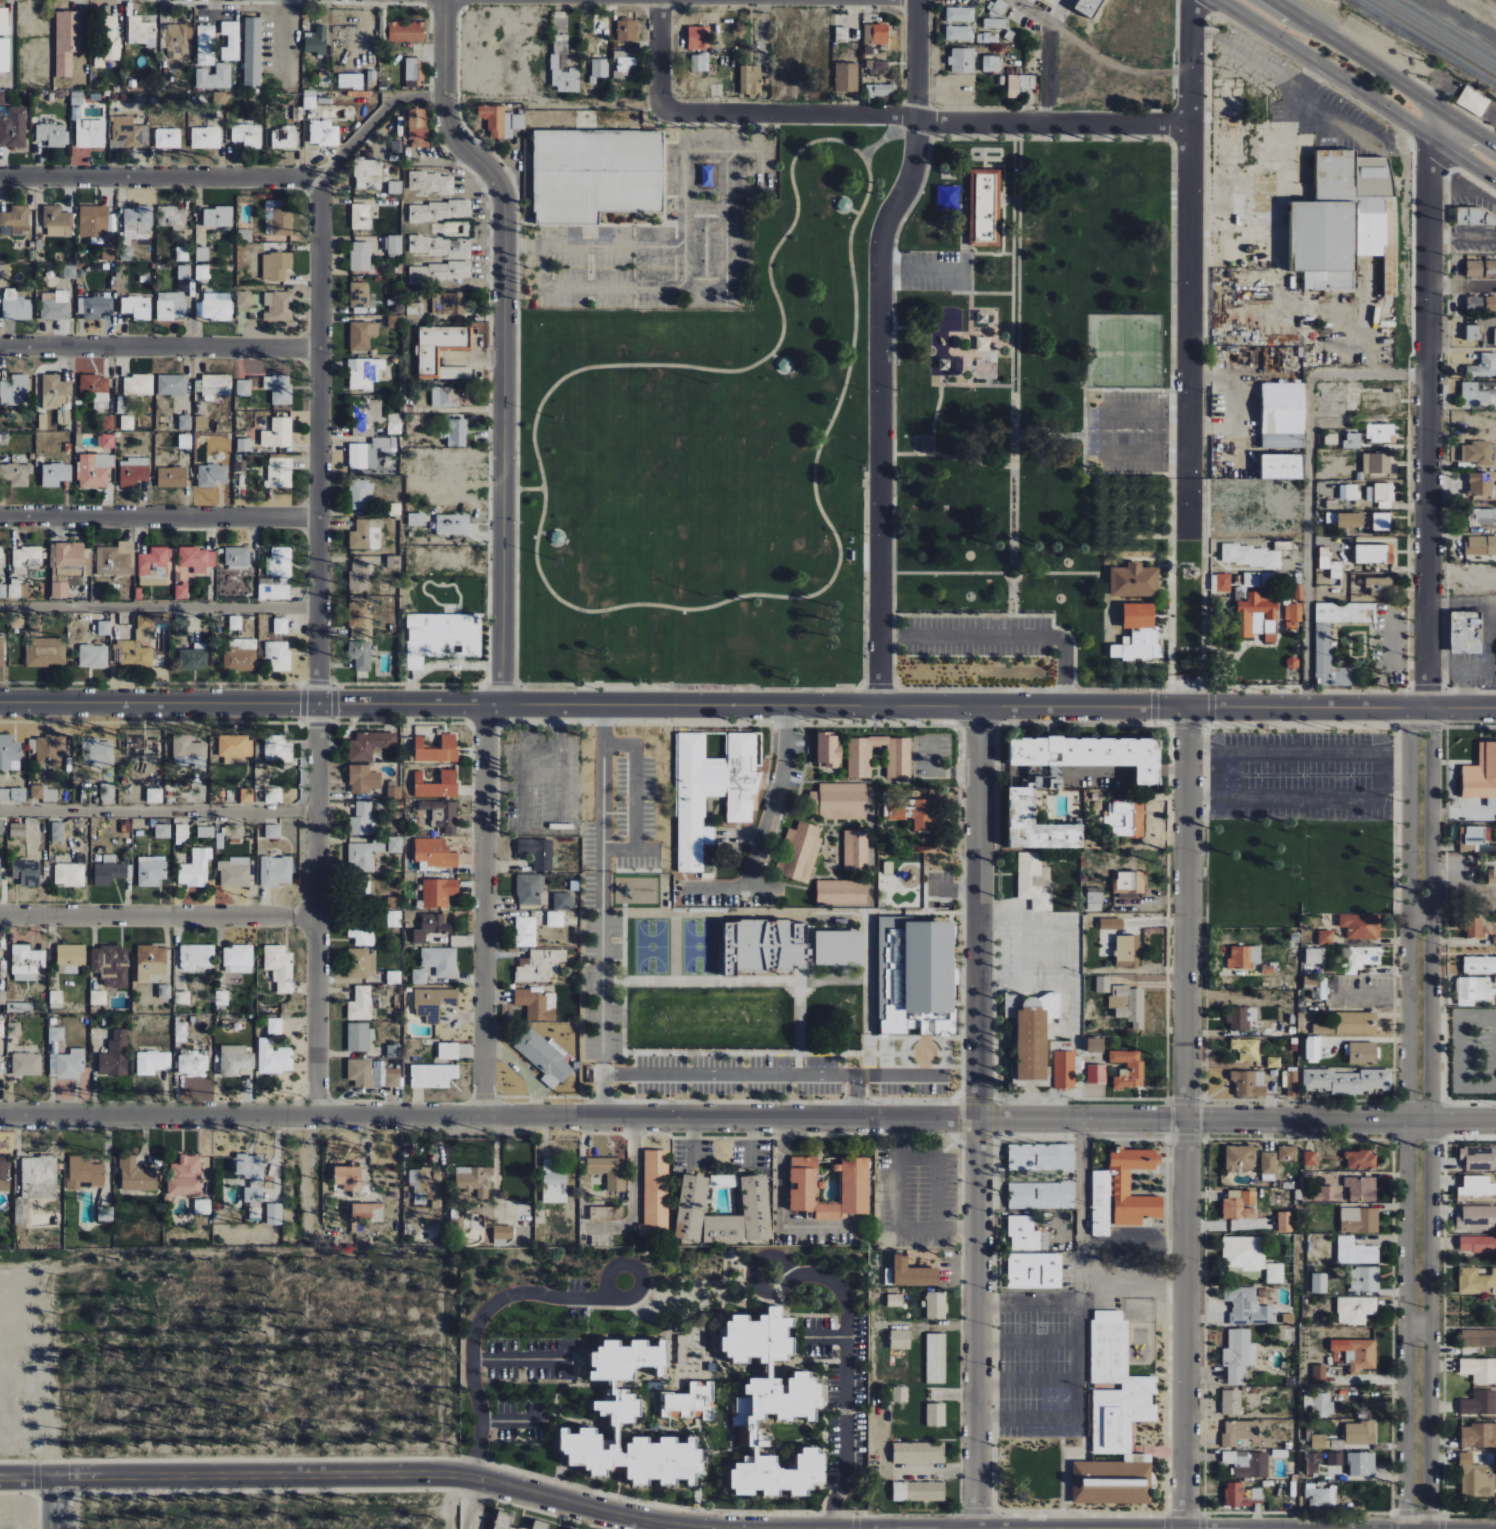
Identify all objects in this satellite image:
building: (1101, 0)
building: (1087, 7)
building: (997, 9)
road: (1029, 10)
road: (1057, 12)
building: (960, 14)
building: (3, 21)
road: (1293, 26)
building: (626, 30)
building: (141, 32)
building: (406, 32)
building: (959, 33)
building: (842, 34)
building: (876, 34)
railway: (1439, 34)
building: (698, 37)
building: (987, 37)
railway: (1431, 38)
building: (67, 40)
building: (108, 41)
building: (177, 41)
building: (231, 41)
building: (315, 41)
building: (205, 45)
building: (252, 51)
building: (4, 55)
road: (665, 55)
building: (962, 60)
building: (700, 62)
road: (1317, 62)
building: (624, 63)
building: (991, 63)
building: (877, 67)
building: (599, 69)
building: (411, 72)
road: (1384, 72)
road: (1043, 73)
building: (564, 74)
building: (214, 77)
building: (846, 77)
building: (750, 80)
building: (350, 81)
building: (1018, 84)
building: (879, 89)
building: (2, 98)
building: (219, 98)
building: (309, 99)
building: (1473, 101)
road: (817, 115)
road: (1433, 118)
building: (500, 121)
building: (12, 126)
building: (418, 127)
building: (89, 133)
building: (323, 133)
building: (128, 134)
building: (52, 135)
building: (247, 135)
road: (1428, 135)
road: (890, 136)
building: (168, 138)
building: (205, 138)
building: (284, 138)
road: (1470, 144)
road: (1468, 161)
building: (368, 174)
building: (595, 174)
road: (240, 177)
building: (431, 183)
building: (394, 187)
building: (843, 205)
building: (984, 208)
building: (439, 210)
building: (360, 216)
building: (1475, 216)
building: (172, 217)
building: (218, 217)
building: (1340, 218)
building: (279, 220)
building: (15, 221)
building: (93, 221)
building: (57, 222)
building: (137, 223)
building: (245, 236)
road: (1191, 238)
building: (394, 244)
building: (439, 247)
building: (107, 253)
building: (202, 254)
building: (360, 256)
building: (276, 265)
building: (1480, 268)
building: (4, 272)
building: (202, 272)
building: (439, 272)
building: (60, 276)
building: (361, 296)
building: (243, 299)
building: (449, 303)
building: (1474, 303)
building: (1490, 303)
building: (16, 306)
building: (54, 306)
building: (95, 306)
building: (170, 306)
building: (278, 306)
building: (136, 307)
building: (213, 310)
building: (413, 311)
building: (985, 316)
building: (1472, 332)
building: (362, 335)
building: (1494, 337)
road: (160, 339)
road: (505, 340)
road: (778, 344)
building: (983, 344)
road: (884, 350)
building: (428, 358)
building: (944, 364)
building: (1483, 366)
building: (364, 372)
road: (1371, 374)
building: (138, 385)
building: (171, 385)
building: (216, 385)
building: (243, 388)
building: (278, 389)
building: (14, 391)
building: (1478, 394)
building: (57, 397)
building: (98, 397)
building: (444, 397)
building: (1283, 416)
building: (357, 421)
building: (126, 422)
building: (185, 423)
building: (201, 423)
building: (394, 423)
park: (856, 428)
building: (278, 433)
building: (457, 433)
building: (1380, 433)
building: (107, 441)
building: (184, 441)
building: (1352, 441)
building: (243, 445)
building: (927, 445)
building: (368, 451)
building: (1477, 453)
building: (1377, 463)
building: (1281, 467)
building: (133, 472)
building: (91, 473)
building: (279, 473)
building: (16, 474)
building: (55, 475)
building: (211, 475)
building: (171, 477)
building: (1482, 484)
building: (1348, 492)
building: (361, 495)
building: (1381, 495)
building: (394, 510)
road: (161, 513)
building: (1482, 517)
building: (416, 519)
building: (1331, 519)
building: (1349, 520)
building: (1381, 521)
building: (452, 524)
building: (365, 535)
building: (557, 538)
road: (1308, 540)
building: (1481, 546)
building: (1374, 554)
building: (69, 555)
building: (237, 556)
building: (1251, 556)
building: (27, 557)
building: (1, 558)
building: (115, 559)
building: (197, 559)
building: (394, 562)
building: (1330, 563)
building: (154, 565)
building: (72, 576)
building: (276, 576)
road: (1186, 576)
building: (359, 577)
building: (1252, 580)
building: (1134, 581)
building: (1224, 583)
building: (1378, 586)
building: (15, 588)
building: (59, 590)
building: (2, 591)
building: (181, 591)
building: (1299, 592)
road: (160, 606)
building: (1293, 616)
building: (359, 620)
building: (17, 622)
building: (235, 623)
building: (1245, 625)
building: (180, 626)
building: (280, 626)
building: (104, 628)
building: (1466, 632)
building: (1138, 635)
building: (441, 637)
building: (1323, 645)
building: (138, 646)
road: (319, 648)
building: (1, 652)
building: (45, 652)
building: (278, 655)
building: (360, 655)
building: (93, 656)
building: (193, 659)
building: (239, 659)
road: (1185, 676)
road: (1185, 682)
road: (747, 704)
building: (370, 745)
building: (141, 747)
building: (188, 749)
building: (235, 749)
building: (277, 749)
building: (436, 749)
building: (47, 750)
building: (828, 750)
building: (8, 752)
building: (97, 753)
building: (1090, 755)
building: (899, 762)
building: (1481, 776)
building: (363, 779)
building: (437, 785)
building: (395, 791)
building: (712, 791)
building: (107, 792)
building: (43, 793)
building: (12, 795)
building: (154, 796)
building: (247, 796)
building: (273, 796)
road: (634, 798)
building: (839, 802)
building: (1021, 807)
road: (159, 810)
building: (913, 812)
building: (442, 814)
building: (361, 819)
building: (1126, 819)
road: (764, 824)
building: (1, 827)
building: (18, 830)
building: (162, 831)
building: (234, 831)
building: (57, 832)
building: (206, 832)
building: (273, 832)
building: (181, 834)
road: (1424, 835)
building: (1471, 838)
building: (395, 845)
building: (855, 850)
building: (537, 853)
building: (799, 853)
building: (435, 854)
building: (364, 856)
building: (0, 867)
building: (195, 869)
building: (109, 871)
building: (151, 871)
building: (276, 871)
building: (26, 872)
building: (235, 872)
building: (69, 875)
building: (1491, 875)
building: (1034, 881)
building: (1129, 883)
road: (760, 887)
building: (529, 890)
building: (841, 892)
building: (439, 893)
building: (1095, 899)
building: (563, 902)
road: (487, 911)
road: (602, 912)
road: (159, 917)
building: (394, 919)
building: (555, 919)
building: (1111, 924)
building: (1361, 926)
building: (1476, 928)
building: (433, 930)
building: (526, 932)
building: (361, 933)
building: (1326, 937)
building: (763, 947)
building: (839, 949)
building: (1127, 952)
road: (1059, 953)
building: (238, 956)
building: (1314, 956)
building: (197, 957)
building: (1244, 957)
building: (1360, 957)
building: (70, 959)
building: (440, 961)
building: (151, 962)
building: (2, 963)
building: (26, 963)
building: (361, 963)
building: (110, 966)
building: (540, 966)
building: (1479, 966)
building: (279, 967)
building: (236, 969)
building: (419, 976)
building: (915, 977)
building: (1103, 984)
building: (1473, 990)
building: (164, 991)
building: (2, 997)
building: (98, 998)
building: (221, 998)
building: (55, 999)
building: (433, 1002)
building: (360, 1004)
building: (1010, 1004)
building: (1128, 1004)
building: (537, 1005)
building: (19, 1007)
building: (1238, 1019)
building: (1357, 1024)
building: (274, 1026)
building: (1, 1028)
building: (14, 1029)
building: (1324, 1029)
building: (1033, 1036)
building: (359, 1037)
building: (1095, 1046)
building: (1246, 1049)
building: (1312, 1049)
building: (393, 1051)
building: (448, 1051)
building: (1363, 1052)
building: (115, 1055)
building: (65, 1057)
building: (274, 1058)
building: (544, 1059)
building: (235, 1060)
building: (152, 1062)
building: (26, 1064)
building: (193, 1065)
building: (1128, 1069)
building: (1064, 1070)
building: (360, 1073)
road: (751, 1073)
road: (897, 1074)
building: (1097, 1074)
building: (433, 1076)
building: (392, 1080)
building: (1347, 1081)
building: (1249, 1083)
road: (1187, 1107)
road: (976, 1115)
road: (747, 1122)
building: (7, 1142)
building: (1287, 1152)
building: (1041, 1157)
building: (1239, 1157)
building: (1311, 1157)
building: (1479, 1158)
building: (1361, 1160)
building: (1268, 1162)
road: (108, 1171)
building: (84, 1173)
building: (609, 1173)
building: (3, 1175)
building: (137, 1176)
building: (185, 1176)
road: (307, 1177)
building: (347, 1177)
building: (37, 1179)
building: (475, 1180)
building: (554, 1181)
building: (426, 1185)
building: (854, 1185)
building: (1477, 1186)
building: (1361, 1188)
building: (808, 1189)
building: (1123, 1191)
building: (252, 1193)
road: (634, 1193)
building: (655, 1193)
building: (1327, 1194)
building: (1041, 1195)
road: (778, 1205)
building: (202, 1206)
building: (1240, 1206)
building: (690, 1207)
building: (367, 1211)
building: (105, 1213)
building: (606, 1213)
building: (274, 1214)
building: (743, 1215)
building: (456, 1216)
building: (1477, 1218)
building: (1360, 1220)
building: (1285, 1221)
building: (503, 1233)
building: (1026, 1234)
building: (1478, 1243)
road: (1083, 1247)
building: (1244, 1252)
building: (1356, 1252)
road: (631, 1265)
building: (1034, 1270)
building: (912, 1273)
building: (1275, 1273)
building: (1365, 1279)
building: (1475, 1281)
building: (1320, 1282)
building: (895, 1300)
building: (936, 1305)
building: (1246, 1306)
building: (1356, 1309)
road: (475, 1325)
road: (1024, 1338)
building: (1478, 1338)
building: (900, 1339)
building: (683, 1350)
building: (1357, 1353)
building: (1239, 1355)
building: (936, 1358)
road: (1076, 1359)
road: (517, 1360)
building: (1479, 1370)
road: (846, 1371)
building: (1319, 1374)
building: (1124, 1379)
road: (1024, 1380)
building: (900, 1394)
building: (689, 1402)
building: (1231, 1402)
building: (1319, 1403)
building: (1479, 1403)
building: (769, 1406)
building: (936, 1414)
road: (511, 1417)
building: (1238, 1432)
building: (1360, 1433)
building: (1479, 1435)
building: (1318, 1441)
building: (918, 1452)
building: (1335, 1459)
building: (1313, 1462)
building: (1248, 1463)
building: (1361, 1464)
road: (902, 1474)
road: (349, 1475)
building: (1475, 1478)
building: (1111, 1482)
building: (918, 1491)
building: (1241, 1494)
building: (1320, 1496)
building: (1495, 1499)
road: (55, 1504)
road: (469, 1504)
building: (503, 1520)
road: (1159, 1523)
building: (539, 1525)
road: (1022, 1527)
road: (1297, 1527)

